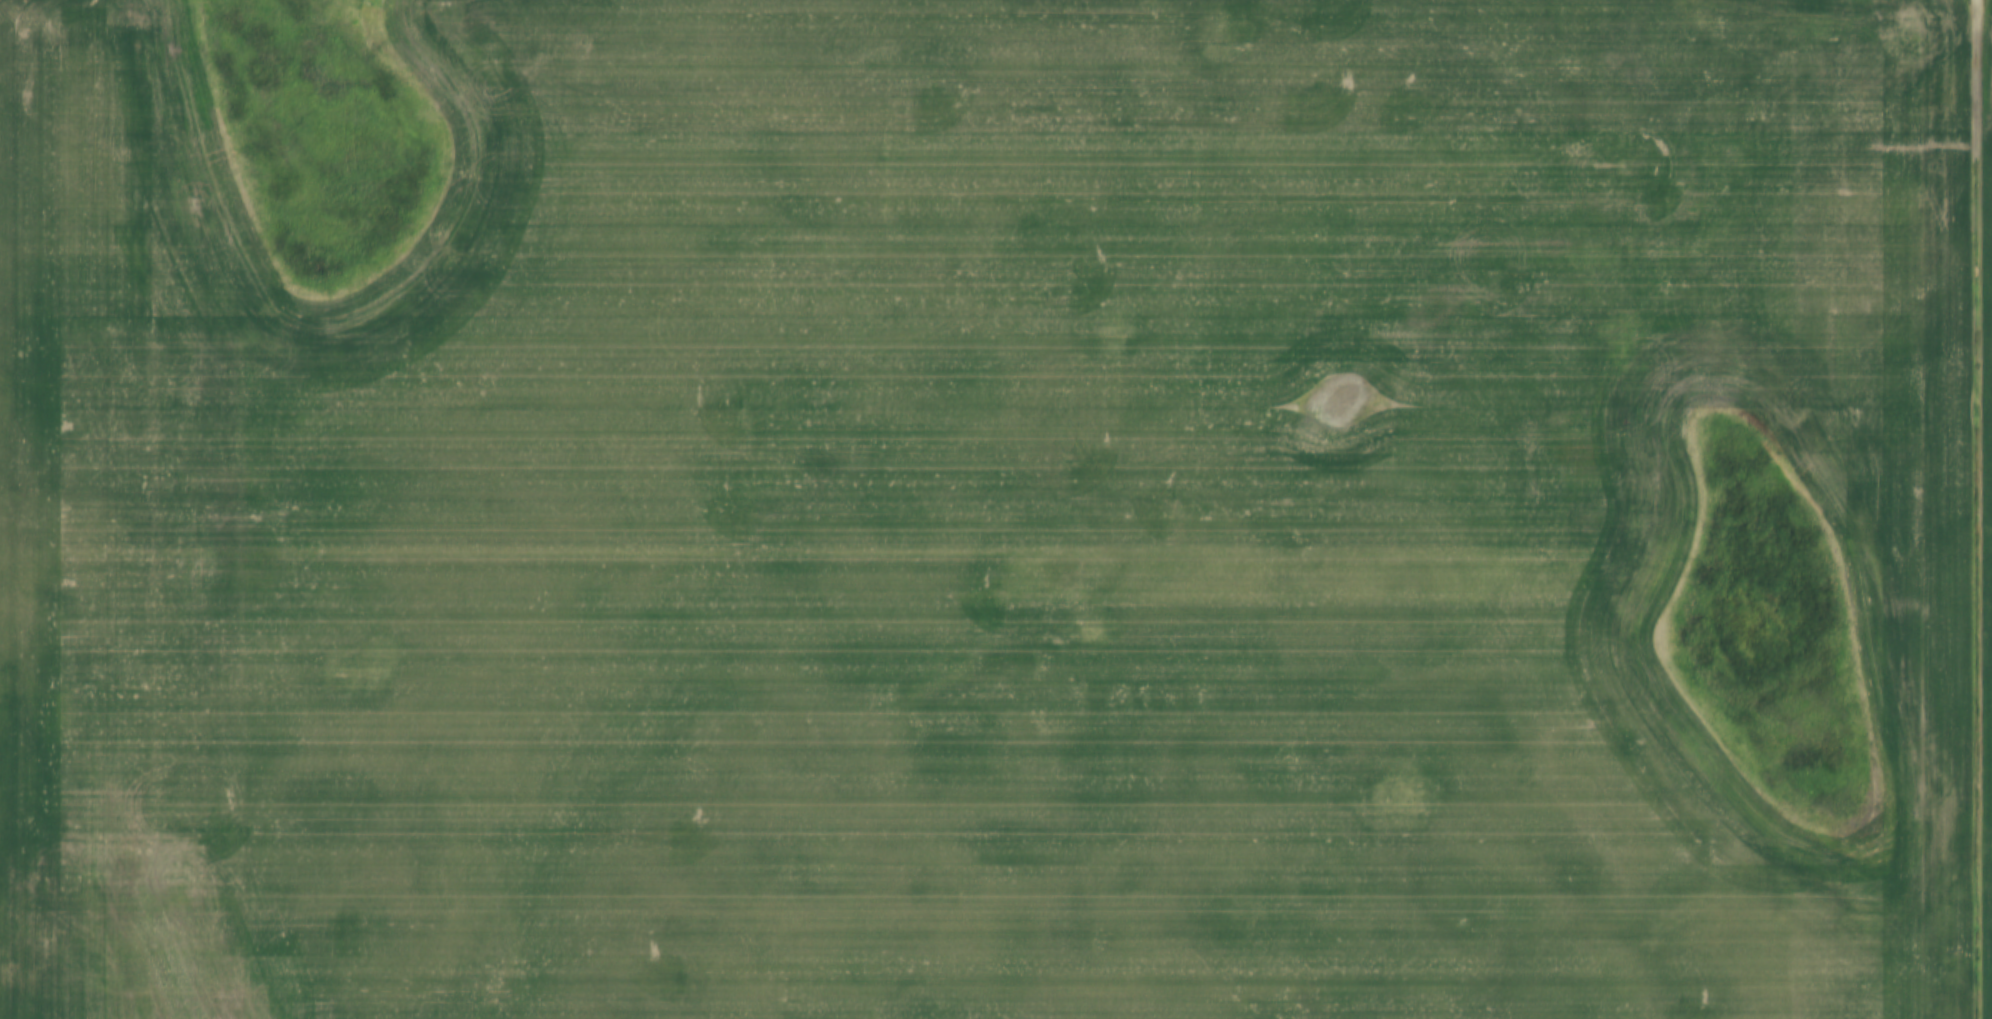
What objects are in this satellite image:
road: (1977, 509)

